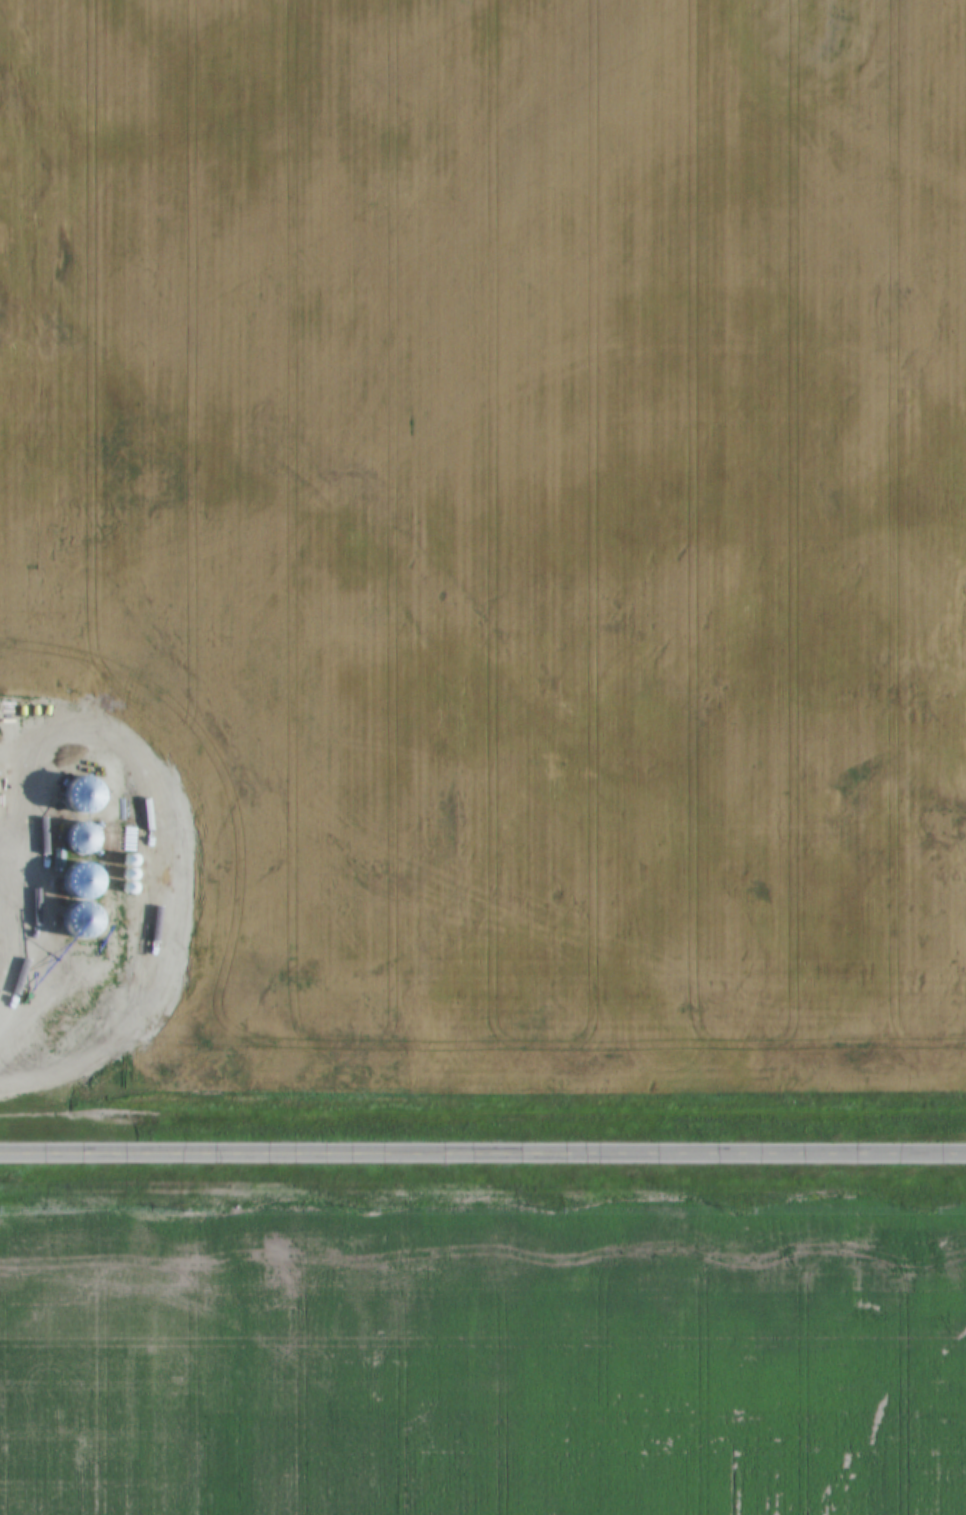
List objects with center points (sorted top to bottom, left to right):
road: (483, 1151)

